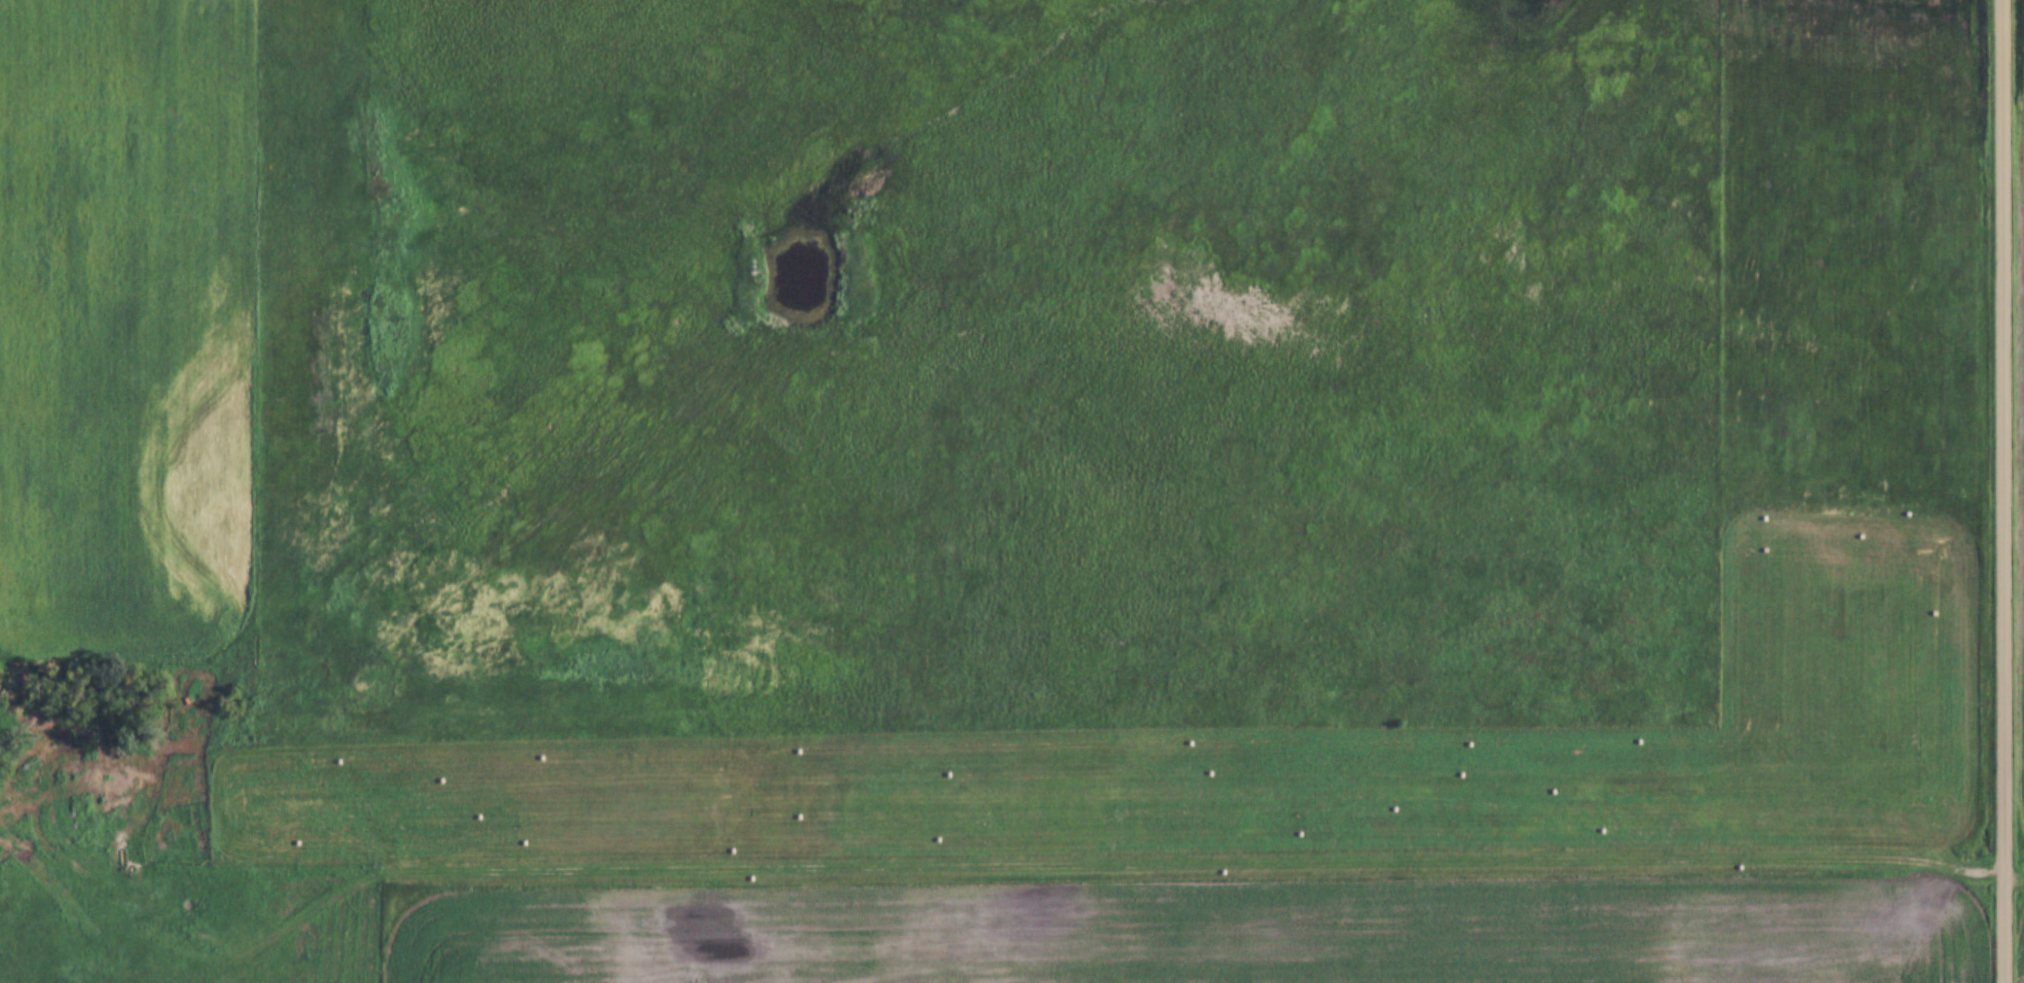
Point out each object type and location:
road: (2001, 491)

